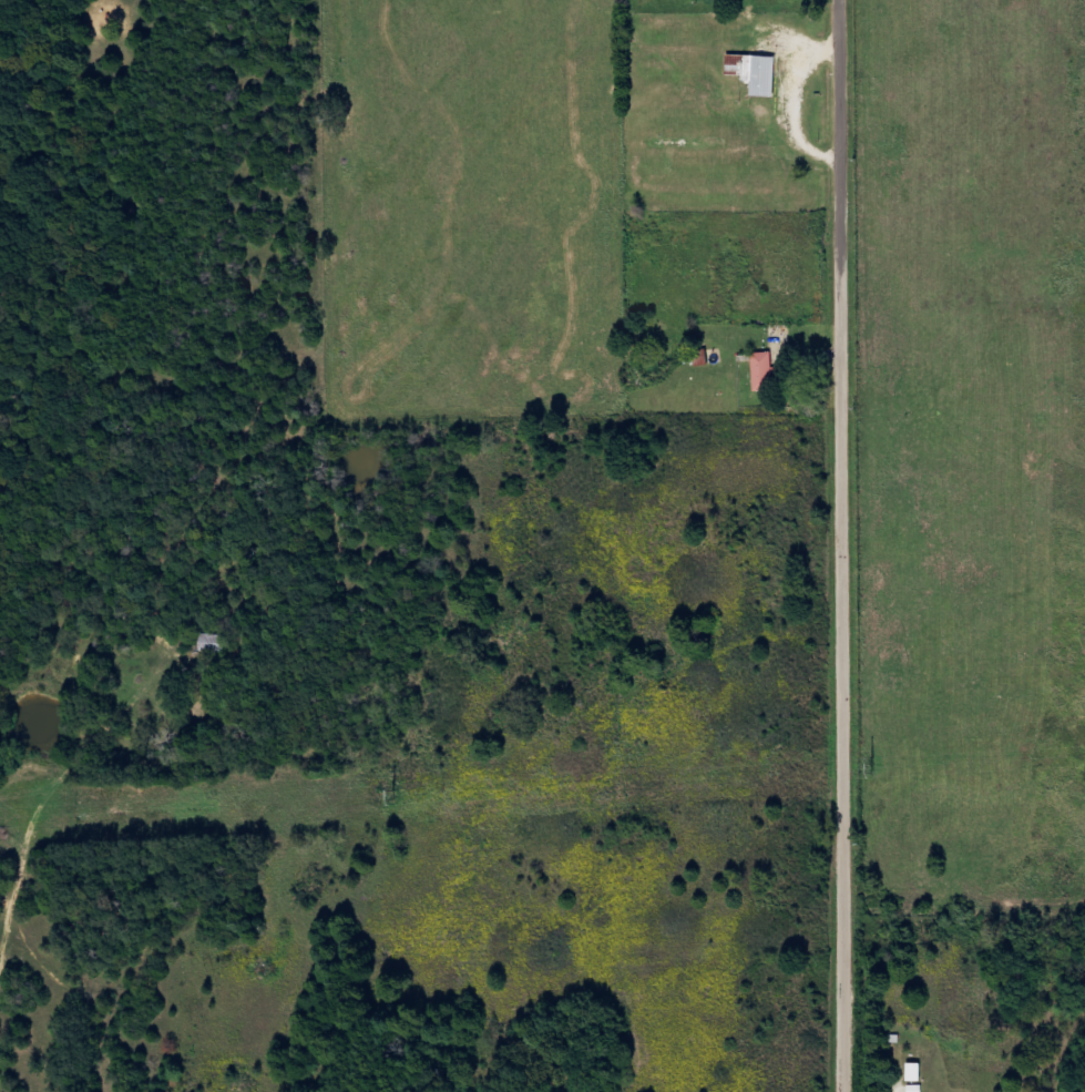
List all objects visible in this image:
building: (755, 72)
building: (768, 370)
road: (850, 545)
power tower: (871, 768)
power tower: (395, 795)
building: (919, 1072)
building: (918, 1089)

